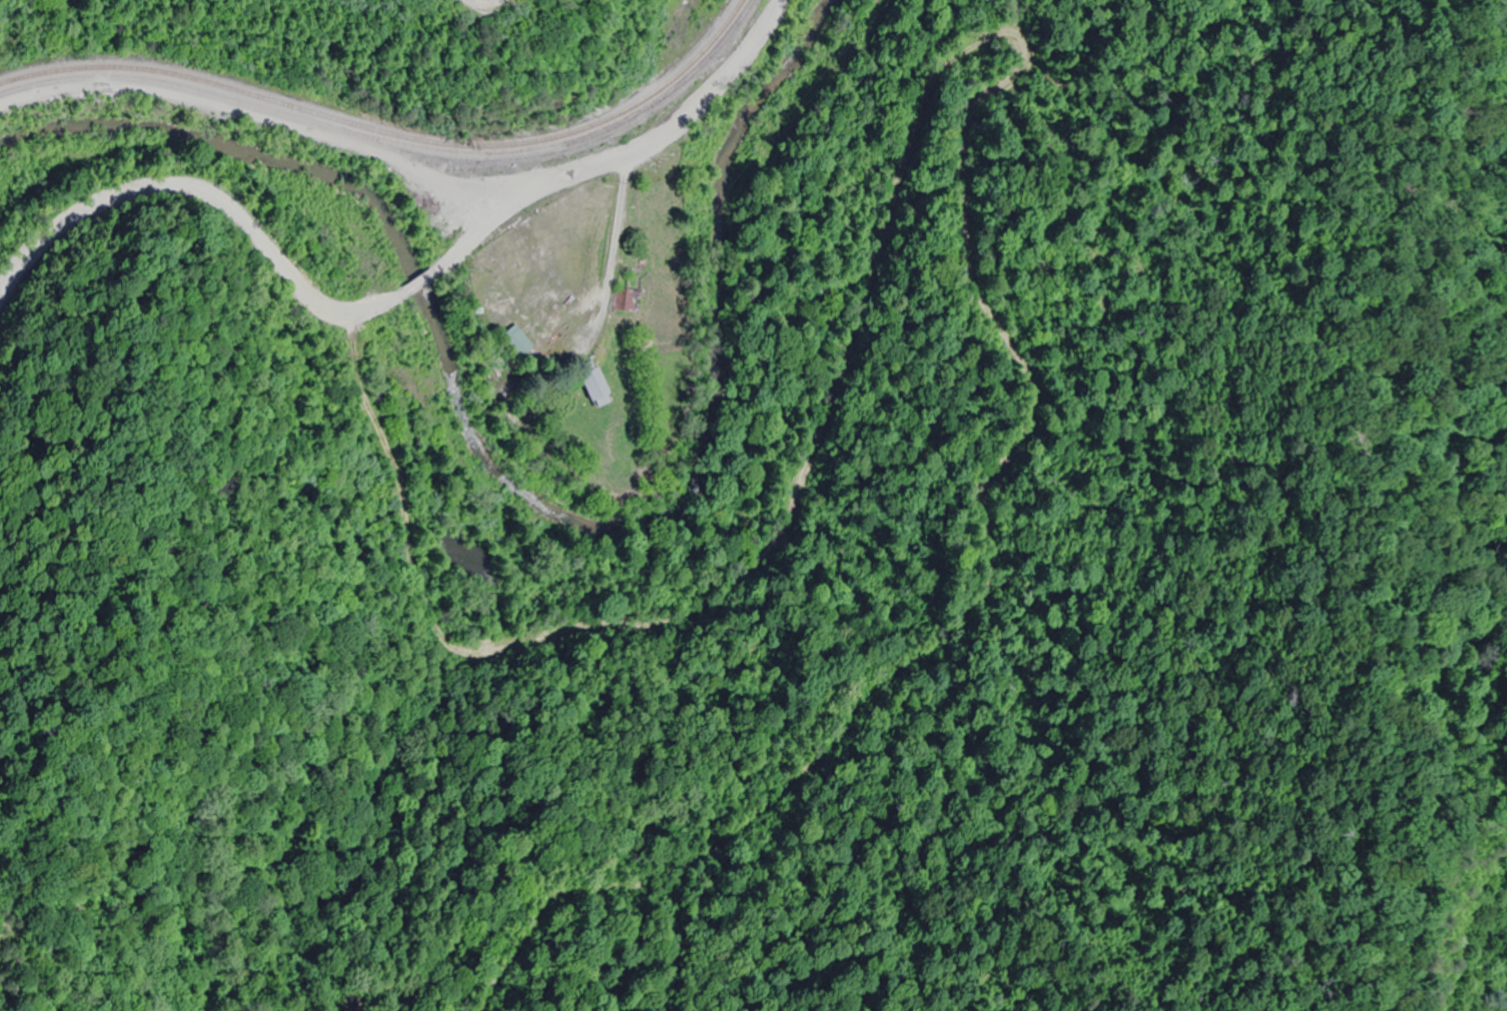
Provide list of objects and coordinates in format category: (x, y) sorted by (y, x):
railway: (389, 133)
road: (400, 299)
building: (624, 299)
building: (513, 340)
building: (591, 385)

